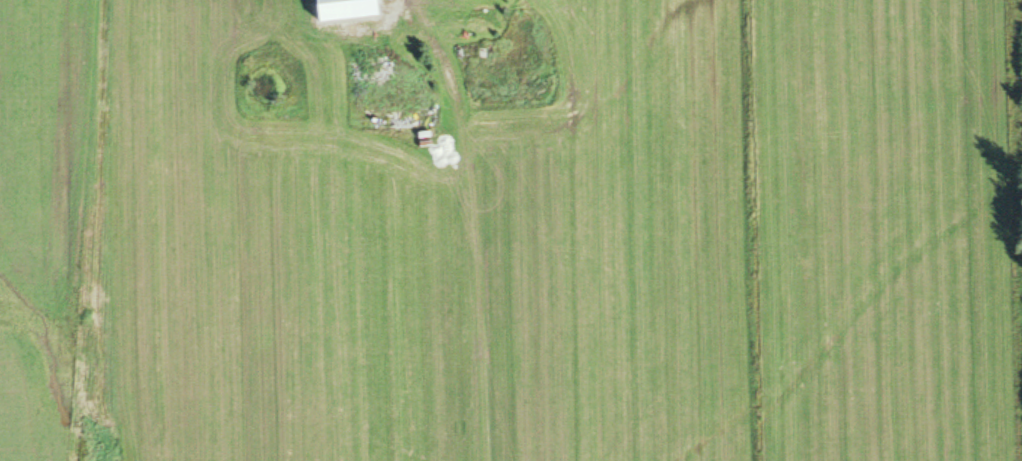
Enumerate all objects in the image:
building: (355, 7)

